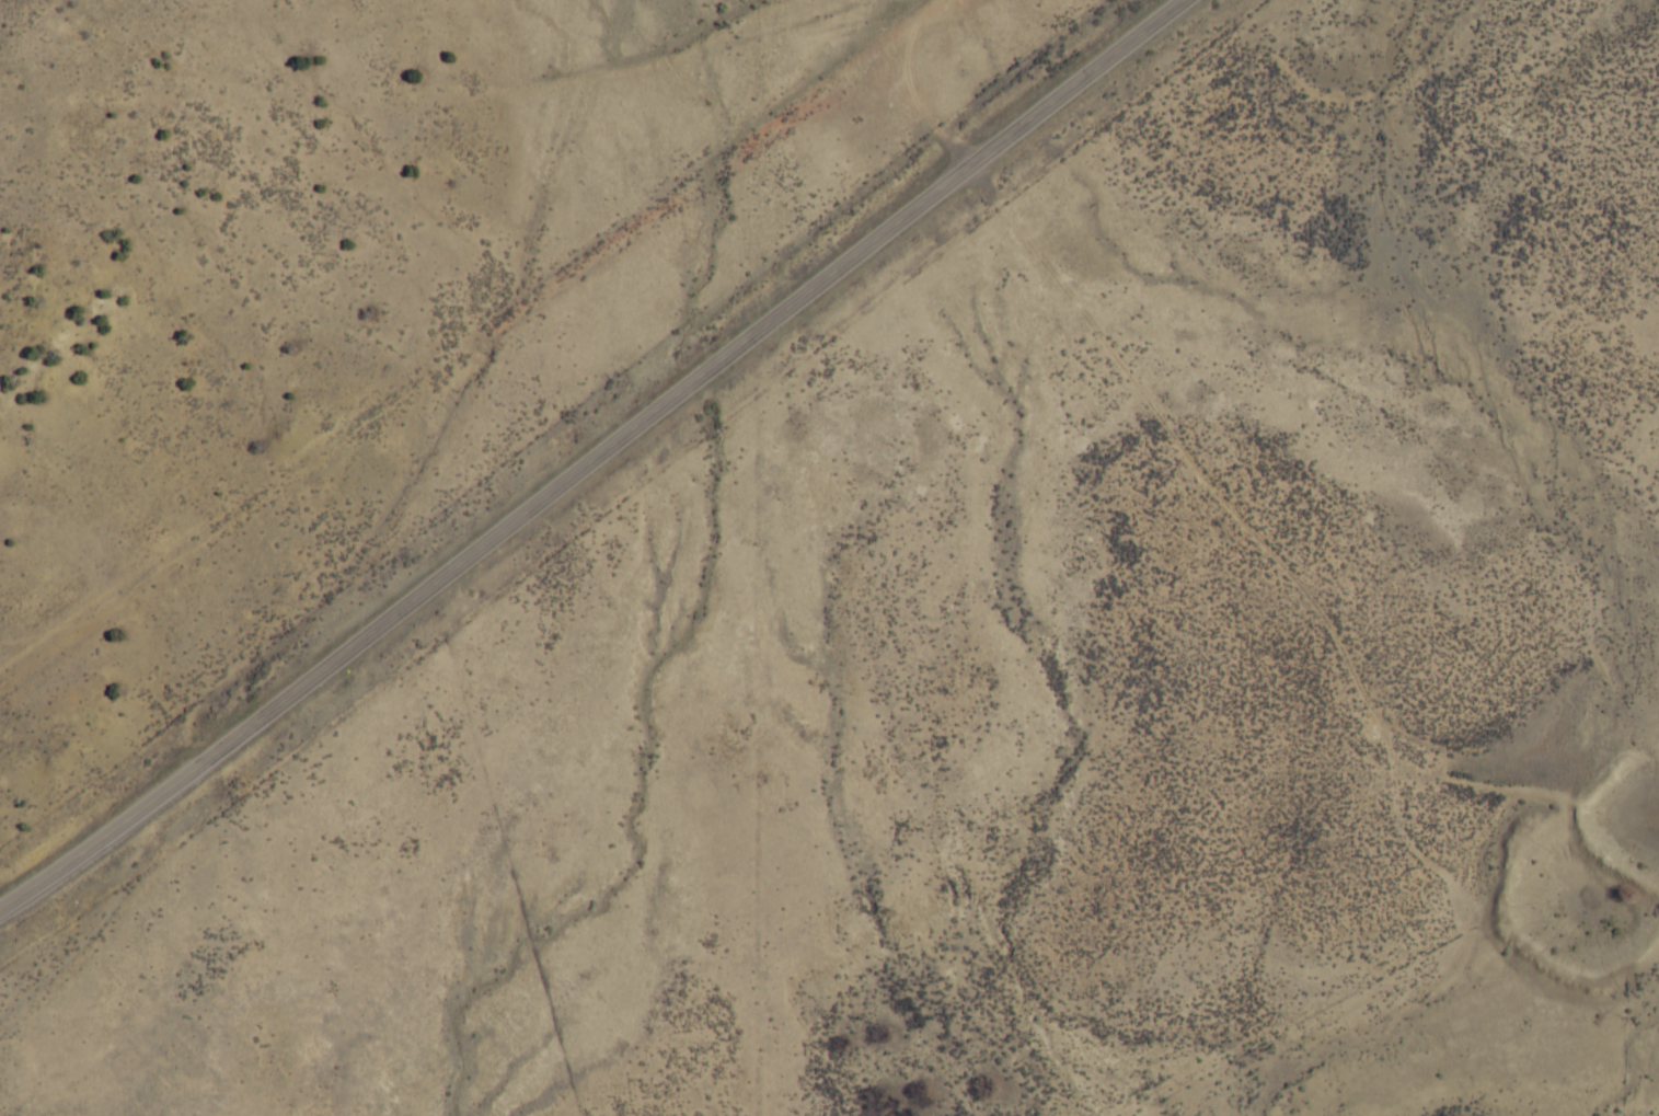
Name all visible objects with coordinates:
road: (591, 455)

